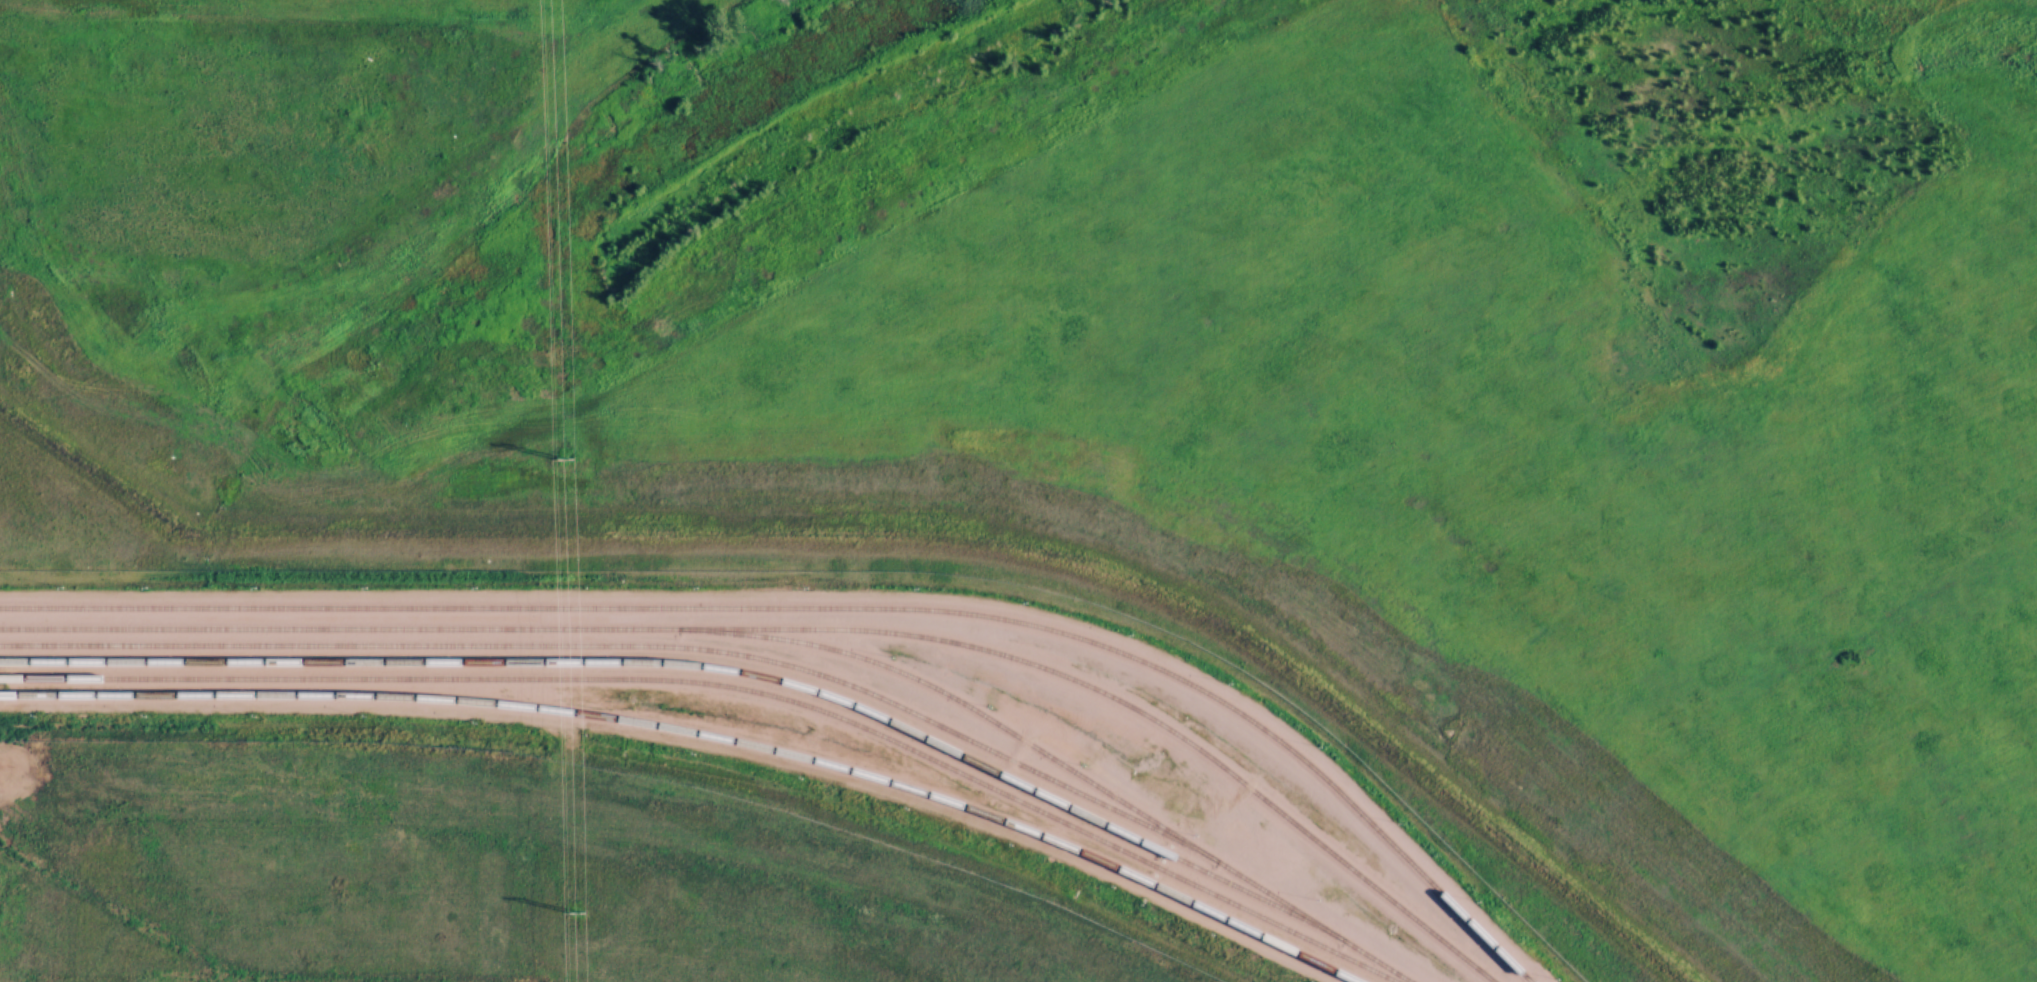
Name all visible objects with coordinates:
power tower: (568, 454)
railway: (828, 606)
railway: (799, 627)
railway: (745, 655)
railway: (686, 663)
railway: (732, 685)
railway: (958, 698)
railway: (703, 732)
power tower: (580, 911)

